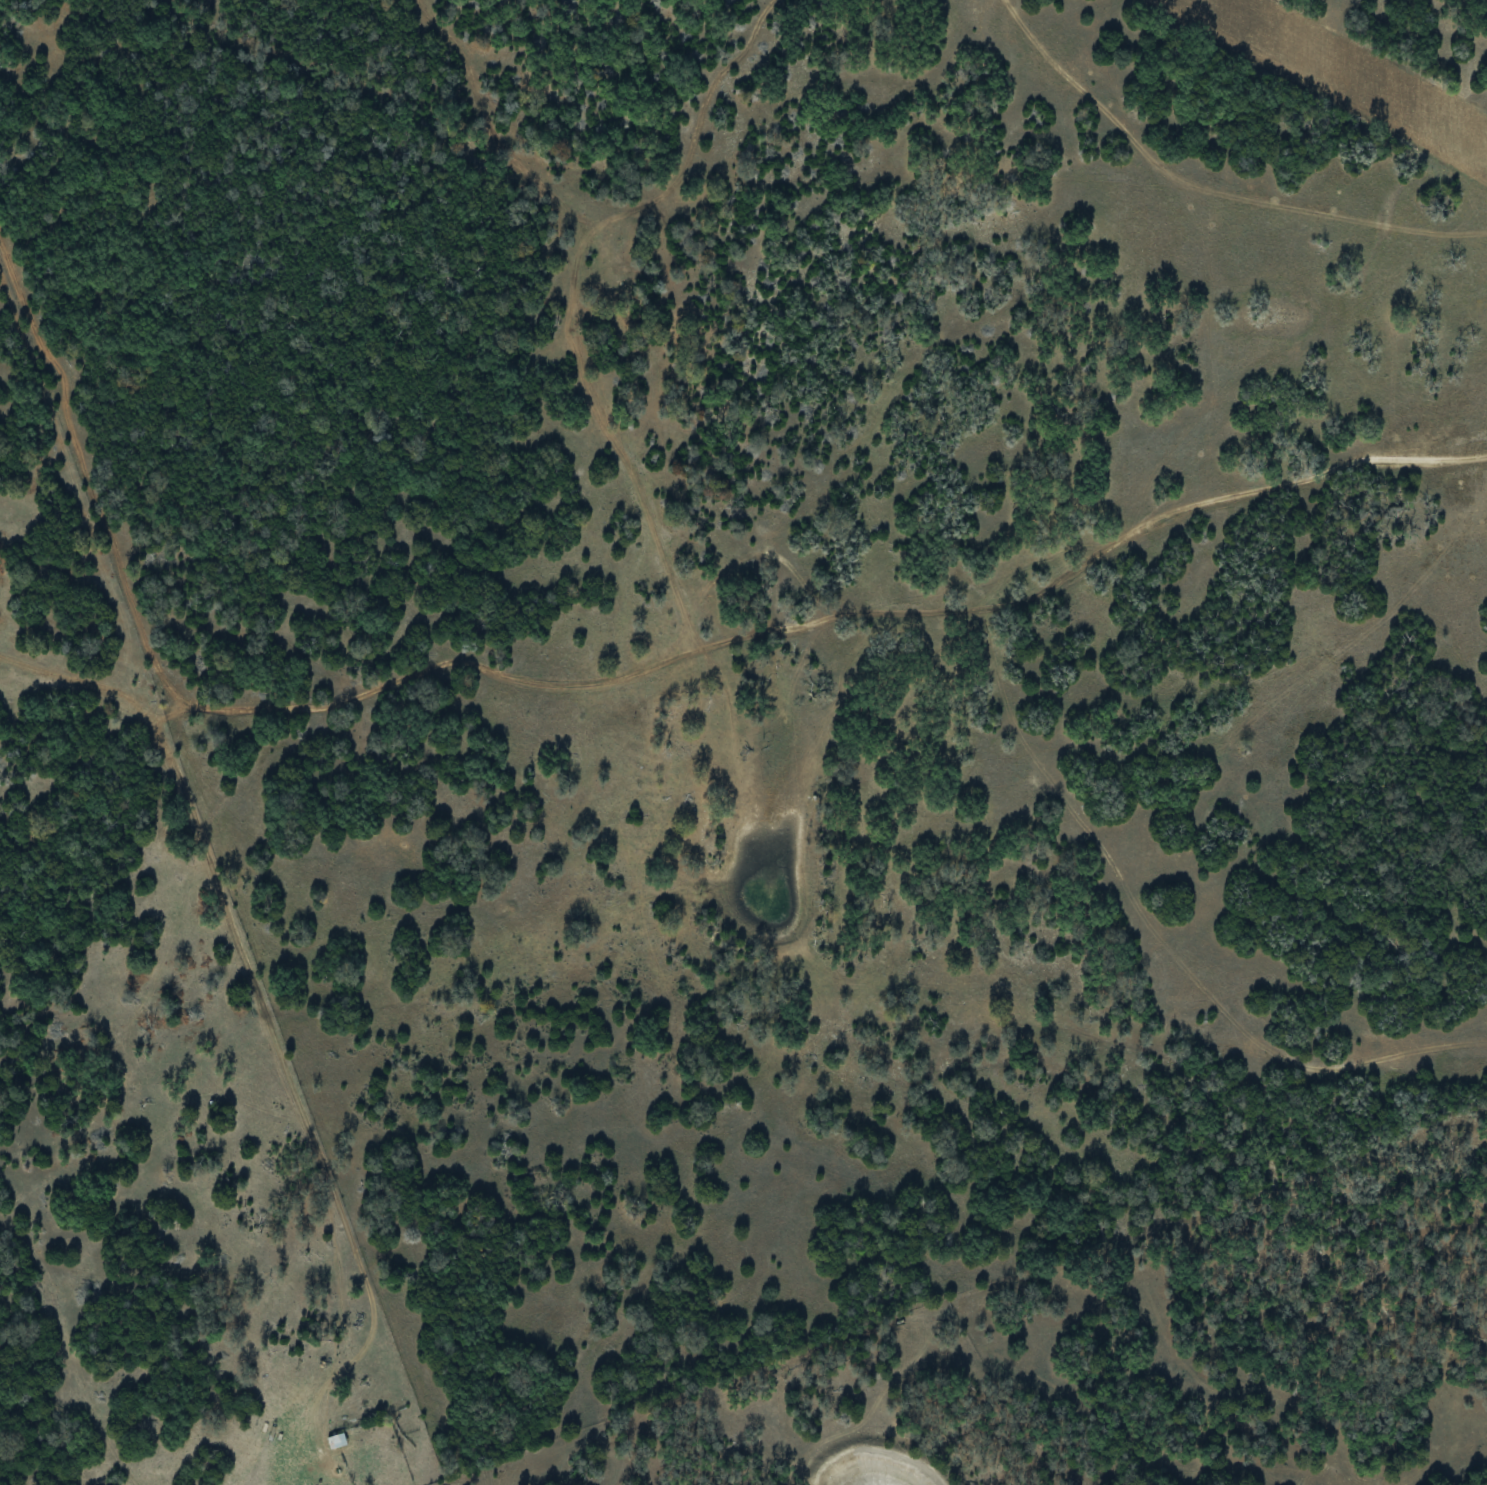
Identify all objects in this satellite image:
quarry: (1300, 159)

